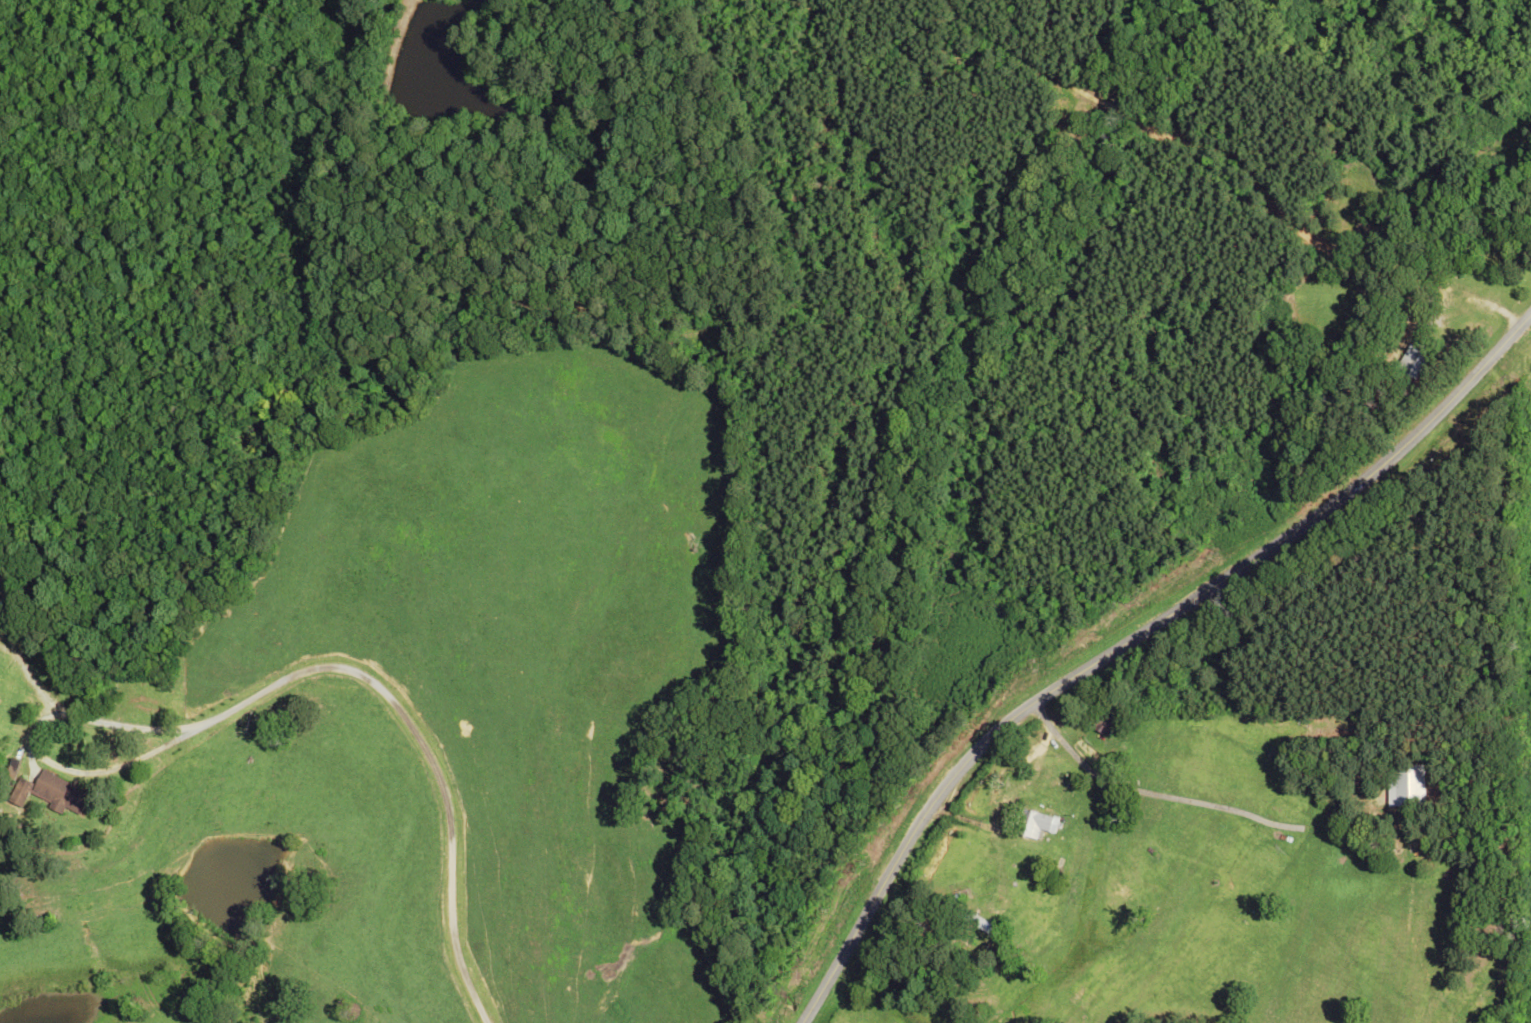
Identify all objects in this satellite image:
building: (1410, 362)
road: (1131, 638)
road: (368, 680)
building: (8, 772)
building: (1404, 785)
building: (47, 793)
building: (1030, 824)
building: (975, 923)

